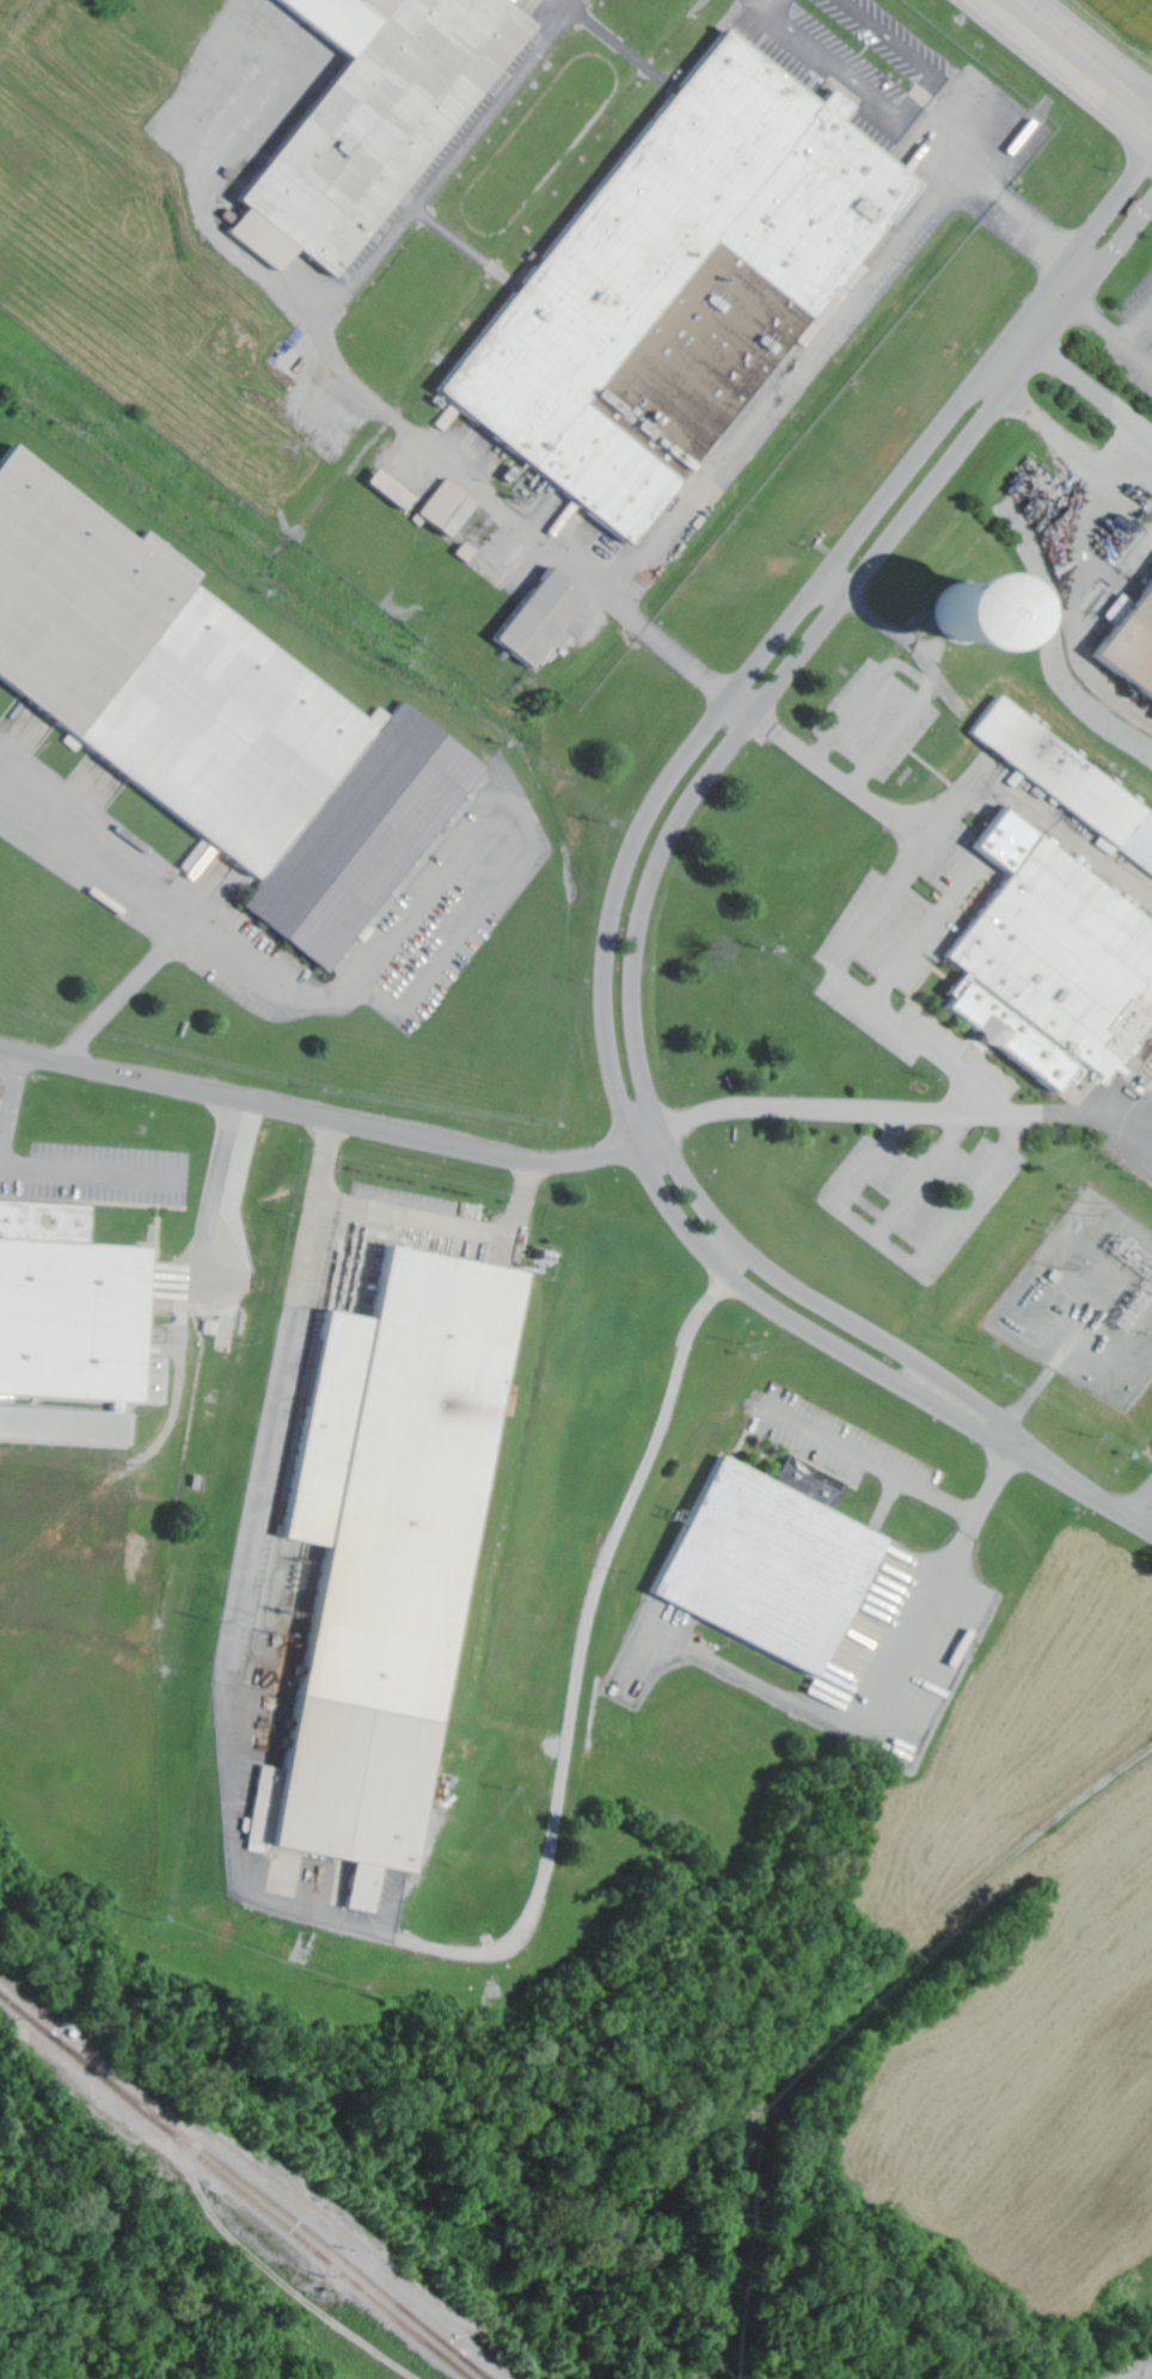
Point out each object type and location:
road: (1078, 60)
building: (374, 121)
building: (680, 282)
road: (1092, 313)
road: (1140, 327)
road: (1140, 351)
road: (1119, 455)
building: (391, 492)
building: (448, 509)
building: (1120, 612)
water tower: (961, 614)
building: (543, 619)
building: (1133, 651)
building: (215, 717)
building: (1066, 783)
road: (623, 882)
road: (649, 896)
road: (938, 920)
building: (1053, 964)
road: (881, 1013)
road: (13, 1100)
road: (332, 1123)
road: (62, 1173)
road: (919, 1265)
power substation: (1086, 1302)
building: (72, 1329)
building: (508, 1405)
road: (1140, 1527)
building: (384, 1549)
building: (772, 1562)
railway: (233, 2188)
railway: (313, 2239)
railway: (1127, 2368)
railway: (478, 2372)

